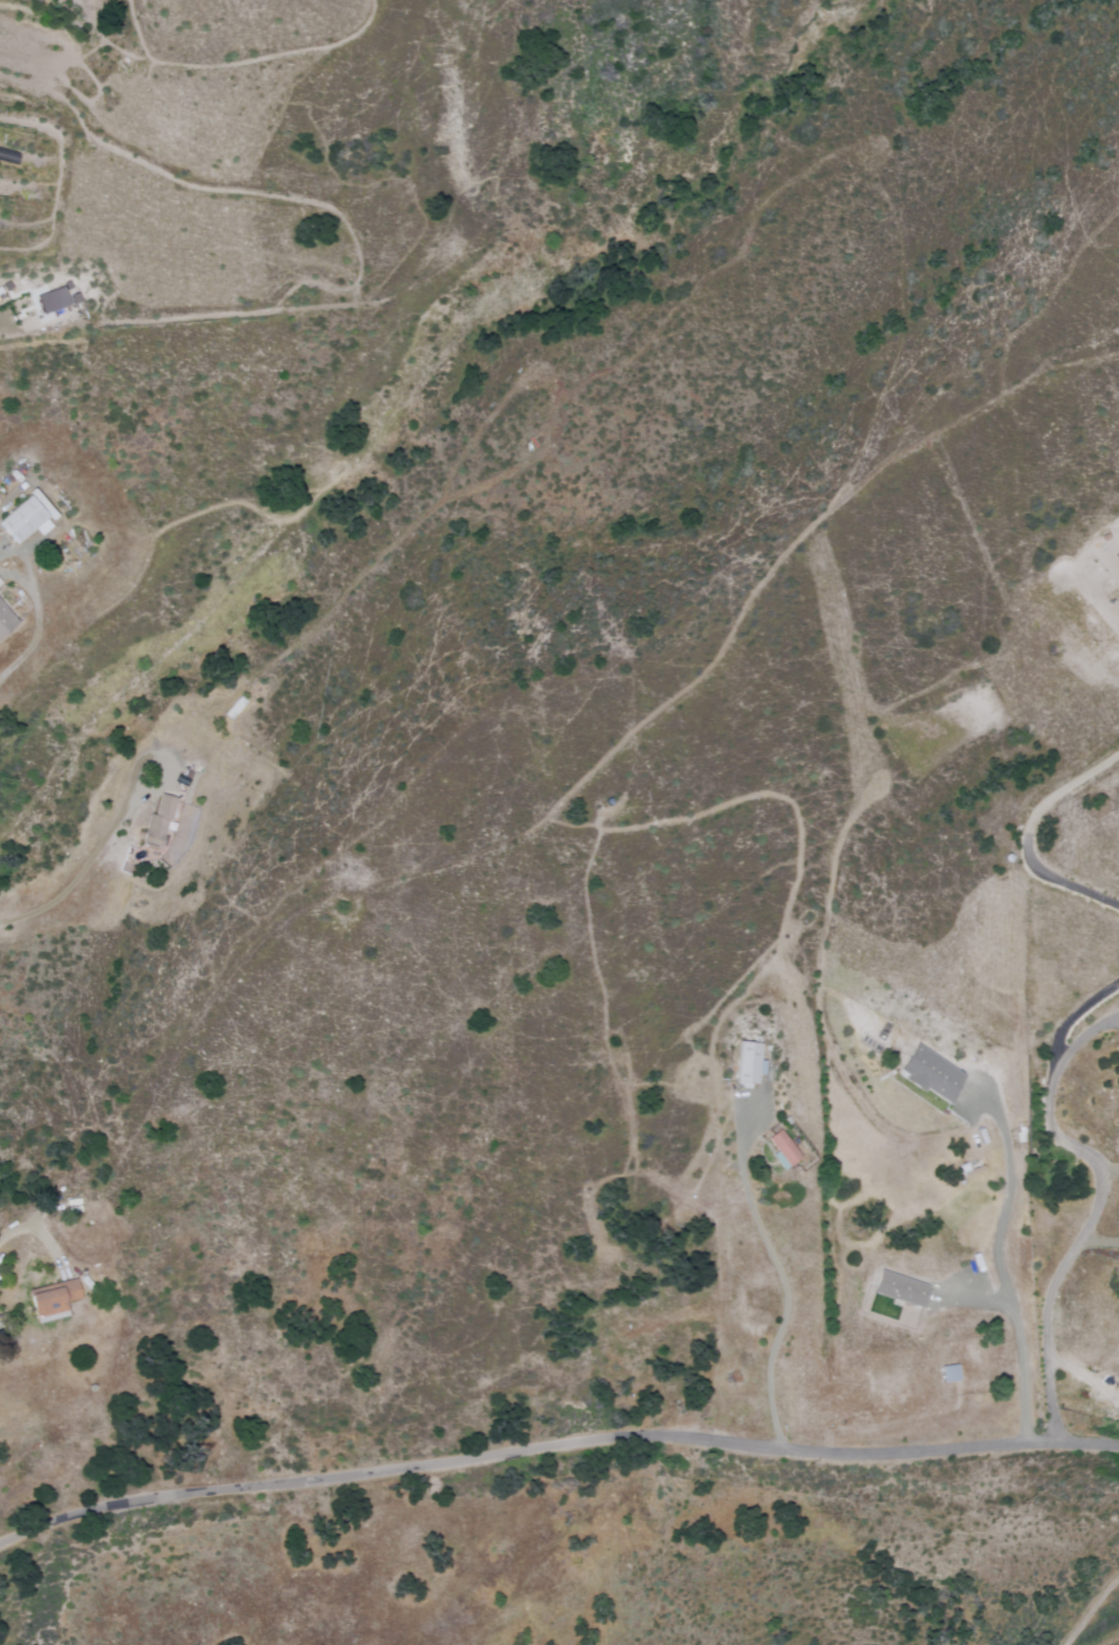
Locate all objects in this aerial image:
building: (60, 0)
building: (1, 296)
building: (55, 297)
road: (214, 309)
road: (86, 461)
building: (25, 517)
building: (4, 619)
building: (156, 822)
building: (746, 1062)
building: (928, 1073)
building: (781, 1149)
building: (898, 1288)
building: (51, 1299)
building: (947, 1373)
road: (555, 1437)
road: (1091, 1601)

